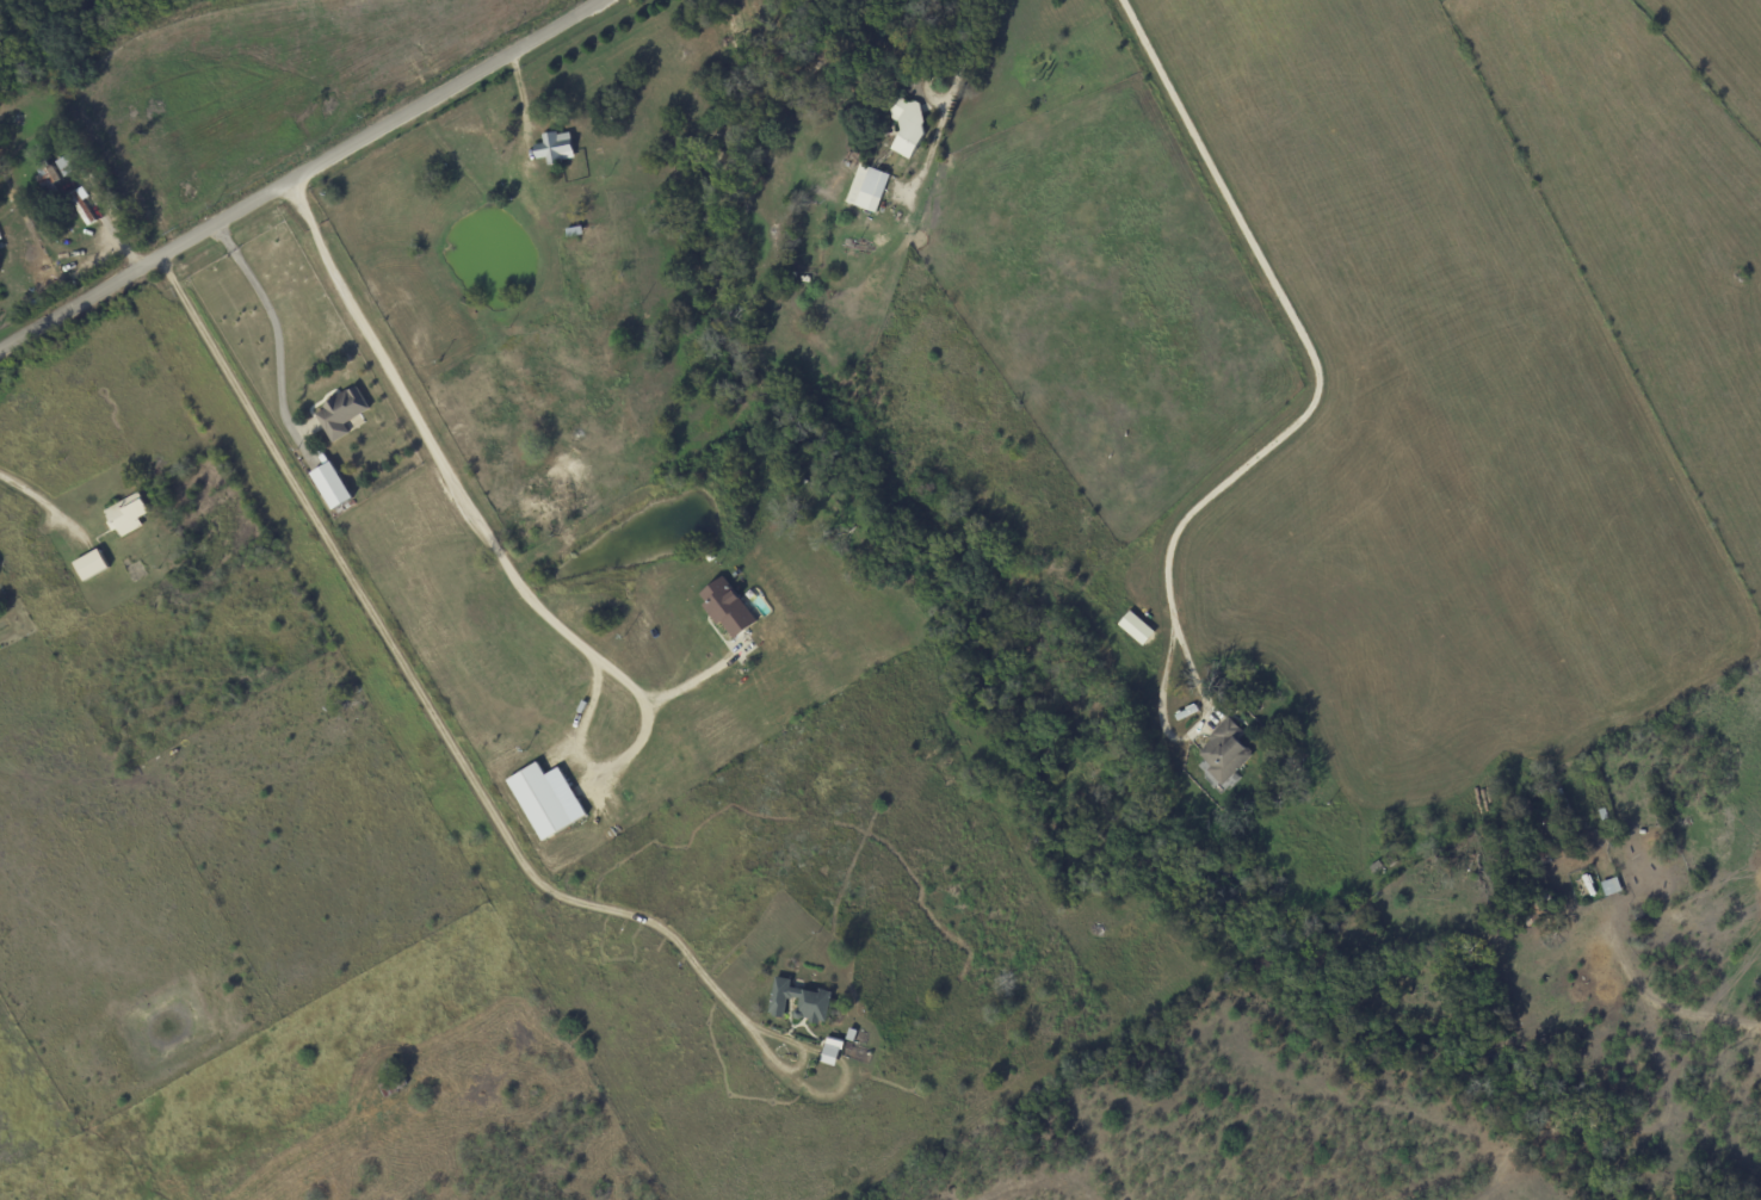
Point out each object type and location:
road: (972, 54)
building: (906, 123)
building: (552, 146)
road: (304, 173)
building: (866, 186)
building: (79, 206)
road: (276, 326)
road: (1305, 328)
building: (338, 412)
road: (446, 463)
building: (328, 483)
road: (32, 496)
building: (124, 513)
building: (87, 563)
building: (724, 606)
building: (1133, 626)
road: (697, 676)
road: (424, 700)
building: (1222, 751)
road: (579, 759)
building: (544, 798)
building: (1609, 885)
road: (1637, 989)
building: (798, 1000)
building: (829, 1051)

